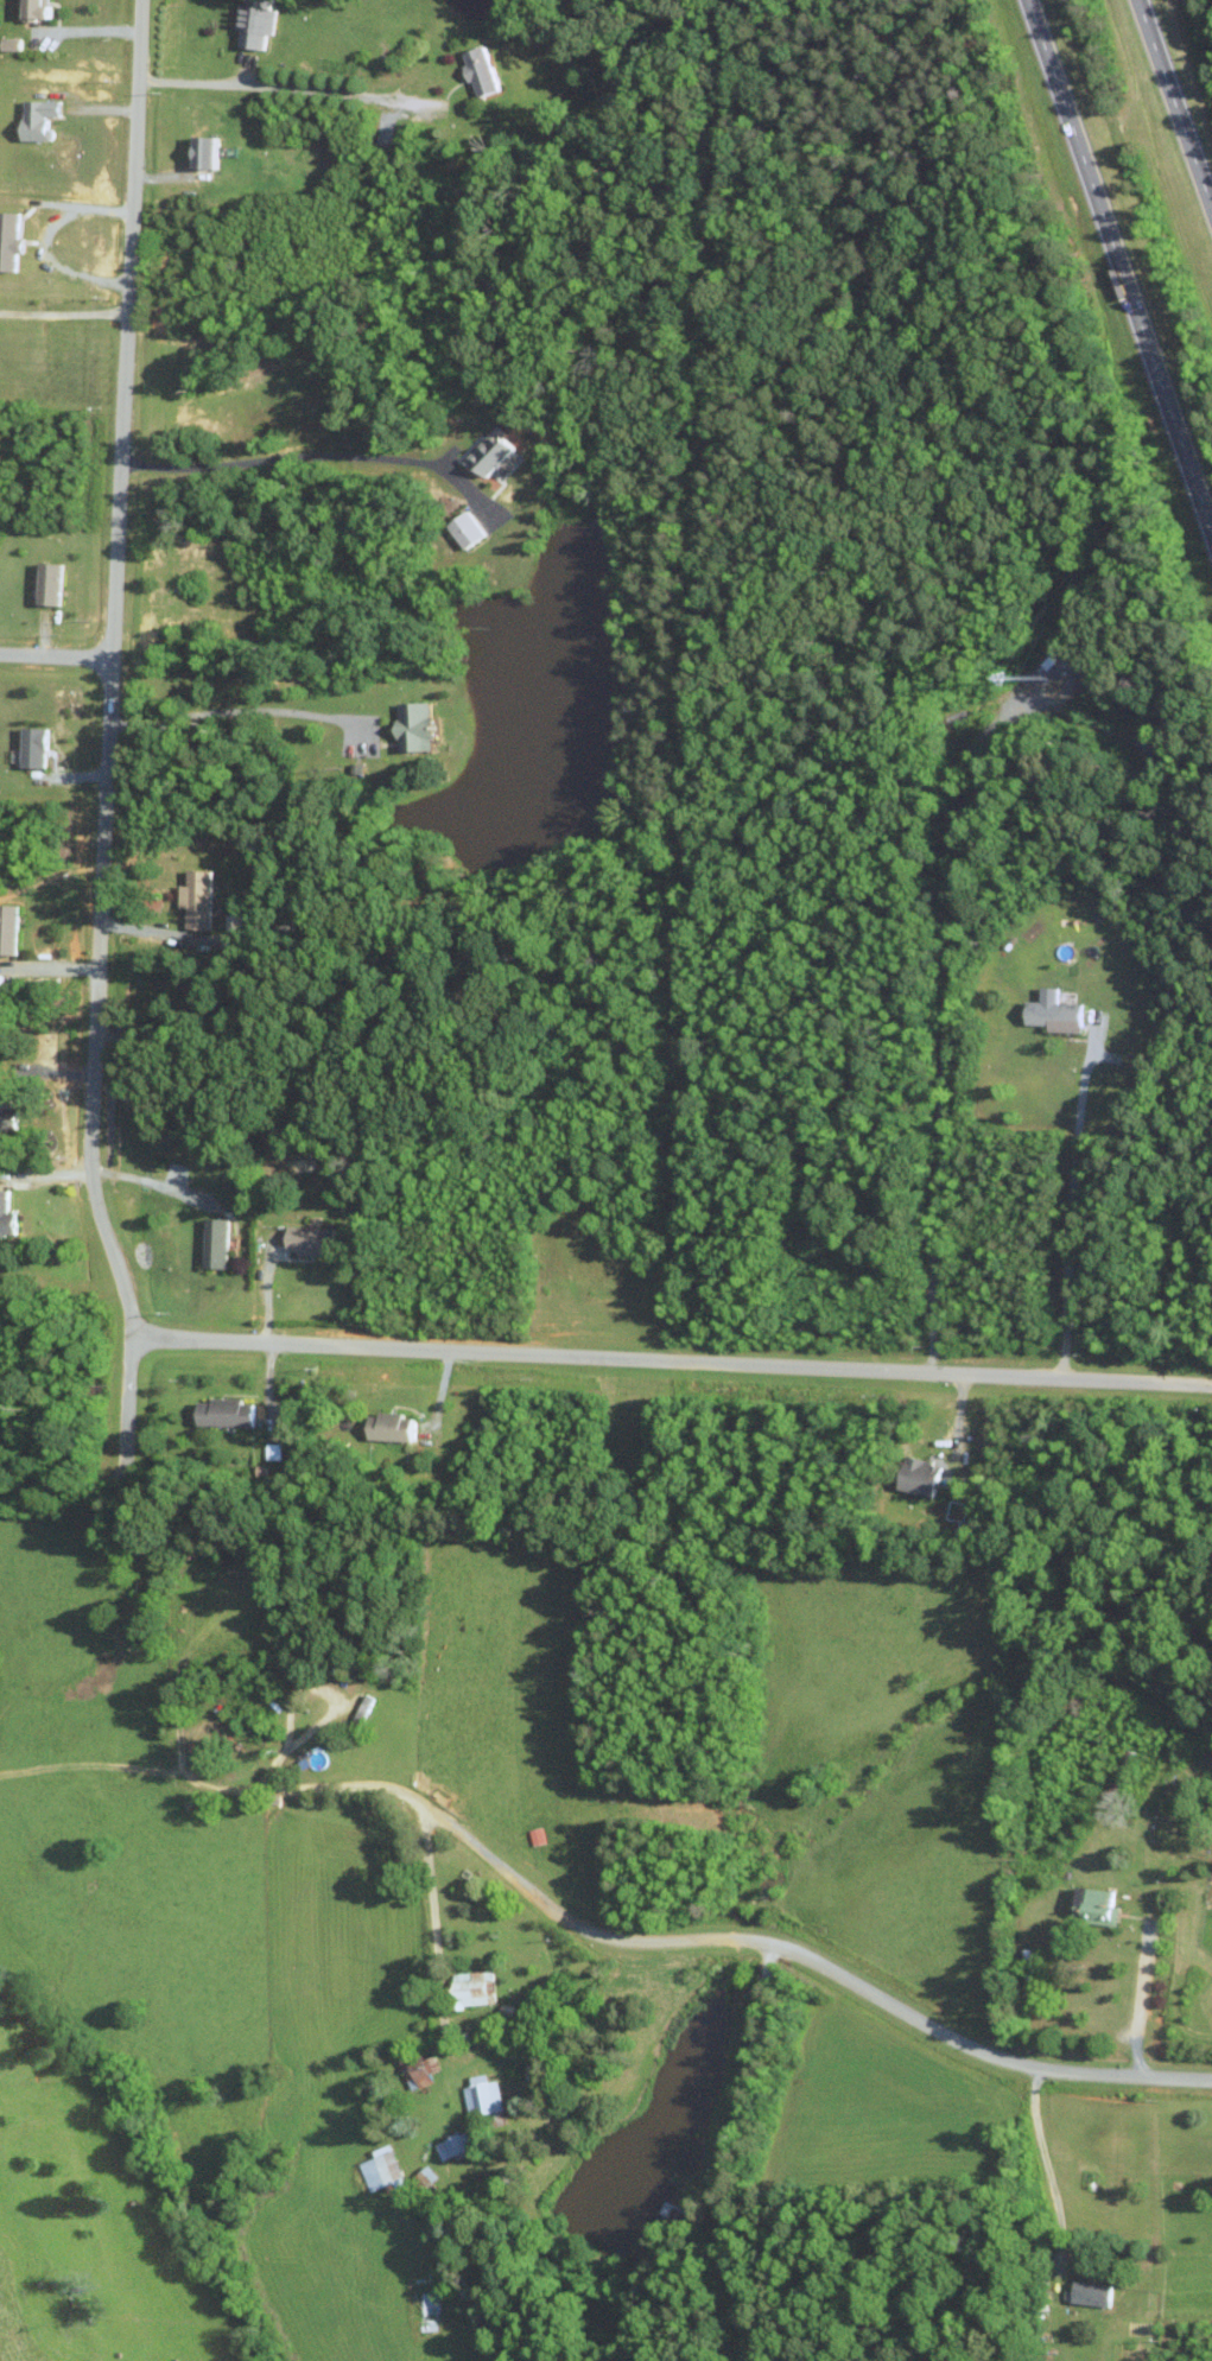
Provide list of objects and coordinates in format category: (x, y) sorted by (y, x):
building: (44, 8)
building: (260, 21)
building: (487, 70)
road: (283, 87)
road: (1174, 104)
building: (43, 118)
building: (212, 151)
road: (74, 204)
building: (12, 240)
road: (53, 265)
road: (1118, 267)
road: (62, 312)
building: (496, 451)
road: (290, 457)
building: (470, 531)
building: (53, 583)
road: (55, 656)
road: (236, 711)
building: (421, 726)
building: (39, 747)
road: (104, 754)
building: (202, 900)
building: (11, 928)
road: (154, 933)
building: (1048, 1010)
road: (946, 1020)
road: (222, 1053)
road: (148, 1182)
road: (1070, 1208)
building: (9, 1217)
building: (312, 1239)
building: (218, 1243)
road: (668, 1359)
building: (222, 1411)
building: (386, 1426)
building: (915, 1475)
building: (1090, 1905)
road: (430, 1909)
road: (738, 1938)
building: (469, 1988)
road: (1137, 2001)
building: (418, 2071)
building: (478, 2095)
building: (448, 2145)
road: (728, 2152)
building: (380, 2168)
road: (1048, 2171)
building: (424, 2175)
building: (1086, 2293)

